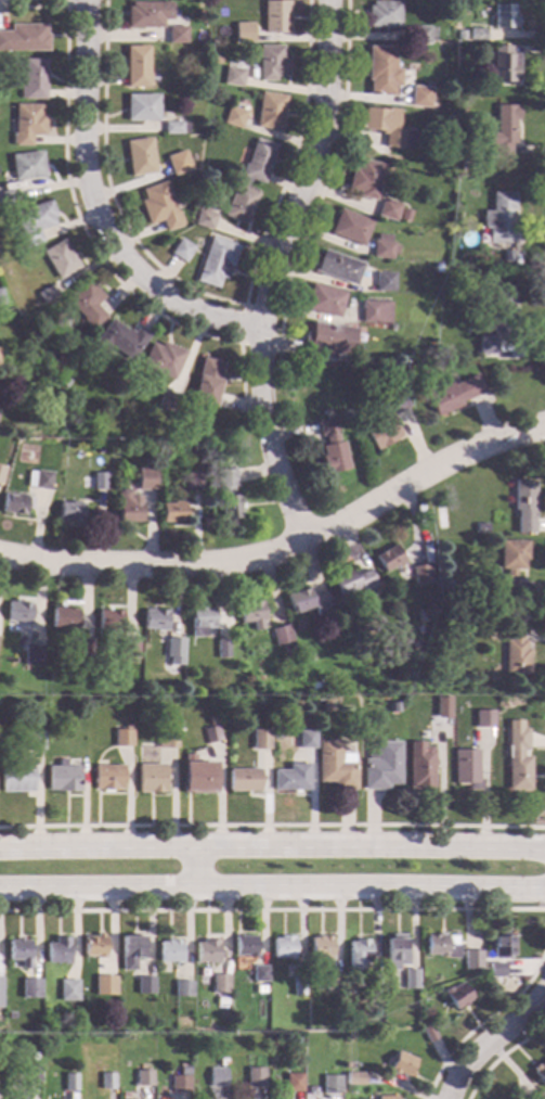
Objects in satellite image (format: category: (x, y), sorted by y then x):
road: (67, 3)
building: (382, 13)
building: (142, 14)
building: (275, 15)
building: (504, 15)
building: (176, 34)
building: (247, 34)
building: (420, 34)
building: (459, 34)
building: (476, 35)
building: (24, 38)
building: (215, 60)
building: (270, 62)
building: (504, 64)
building: (135, 66)
building: (381, 71)
building: (233, 74)
building: (33, 78)
building: (419, 97)
building: (141, 107)
building: (269, 111)
building: (233, 116)
building: (27, 124)
building: (386, 126)
building: (173, 127)
building: (502, 129)
building: (139, 156)
building: (257, 159)
building: (27, 165)
building: (466, 166)
building: (169, 168)
building: (365, 178)
road: (325, 182)
building: (8, 196)
building: (239, 203)
building: (158, 205)
road: (96, 209)
building: (388, 209)
building: (404, 215)
building: (499, 218)
road: (79, 219)
building: (204, 219)
building: (34, 221)
building: (350, 227)
building: (382, 247)
building: (181, 250)
building: (506, 255)
building: (60, 258)
building: (215, 261)
building: (338, 267)
road: (272, 270)
building: (384, 281)
building: (47, 293)
building: (0, 298)
road: (212, 298)
building: (324, 301)
building: (86, 302)
building: (374, 311)
building: (495, 314)
building: (120, 338)
building: (327, 341)
building: (498, 341)
road: (239, 343)
building: (161, 359)
building: (53, 366)
building: (63, 381)
building: (207, 381)
building: (453, 394)
building: (167, 400)
building: (386, 417)
building: (330, 447)
building: (1, 471)
building: (144, 478)
building: (38, 480)
building: (99, 481)
building: (193, 482)
building: (231, 493)
building: (15, 503)
building: (523, 504)
building: (128, 507)
building: (68, 511)
building: (172, 511)
road: (284, 546)
building: (388, 558)
building: (510, 560)
building: (419, 573)
building: (352, 580)
building: (462, 596)
building: (307, 601)
building: (18, 611)
building: (251, 614)
building: (420, 615)
building: (63, 617)
building: (482, 617)
building: (155, 618)
building: (108, 619)
building: (202, 619)
building: (281, 635)
building: (12, 638)
building: (413, 644)
building: (55, 646)
building: (173, 647)
building: (82, 648)
building: (222, 648)
building: (129, 649)
building: (515, 649)
building: (288, 650)
building: (33, 654)
building: (238, 682)
building: (326, 705)
building: (392, 706)
building: (441, 707)
building: (483, 717)
building: (184, 732)
building: (210, 734)
building: (276, 734)
building: (121, 738)
building: (166, 739)
building: (259, 739)
building: (306, 739)
building: (33, 740)
building: (517, 764)
building: (334, 765)
building: (420, 765)
building: (381, 767)
building: (466, 768)
building: (197, 775)
building: (15, 777)
building: (62, 777)
building: (107, 777)
building: (290, 777)
building: (150, 778)
building: (243, 779)
road: (272, 826)
road: (272, 849)
road: (193, 871)
road: (272, 892)
road: (272, 910)
building: (92, 945)
building: (244, 945)
building: (501, 945)
building: (439, 946)
building: (282, 947)
building: (319, 948)
building: (56, 950)
building: (130, 950)
building: (168, 950)
building: (18, 951)
building: (206, 951)
building: (394, 951)
building: (356, 954)
building: (471, 959)
building: (495, 969)
building: (258, 973)
building: (410, 979)
building: (0, 982)
building: (332, 982)
building: (108, 983)
building: (219, 983)
building: (372, 983)
building: (144, 985)
building: (296, 986)
building: (29, 987)
building: (70, 988)
building: (181, 988)
building: (456, 995)
building: (258, 1008)
building: (12, 1013)
road: (485, 1018)
building: (428, 1033)
road: (491, 1042)
road: (501, 1055)
building: (222, 1061)
building: (401, 1064)
building: (183, 1070)
building: (538, 1072)
building: (31, 1073)
building: (217, 1076)
building: (143, 1077)
building: (255, 1078)
building: (353, 1078)
building: (106, 1081)
building: (68, 1082)
building: (293, 1082)
building: (179, 1083)
building: (330, 1084)
building: (15, 1095)
building: (540, 1096)
building: (386, 1097)

